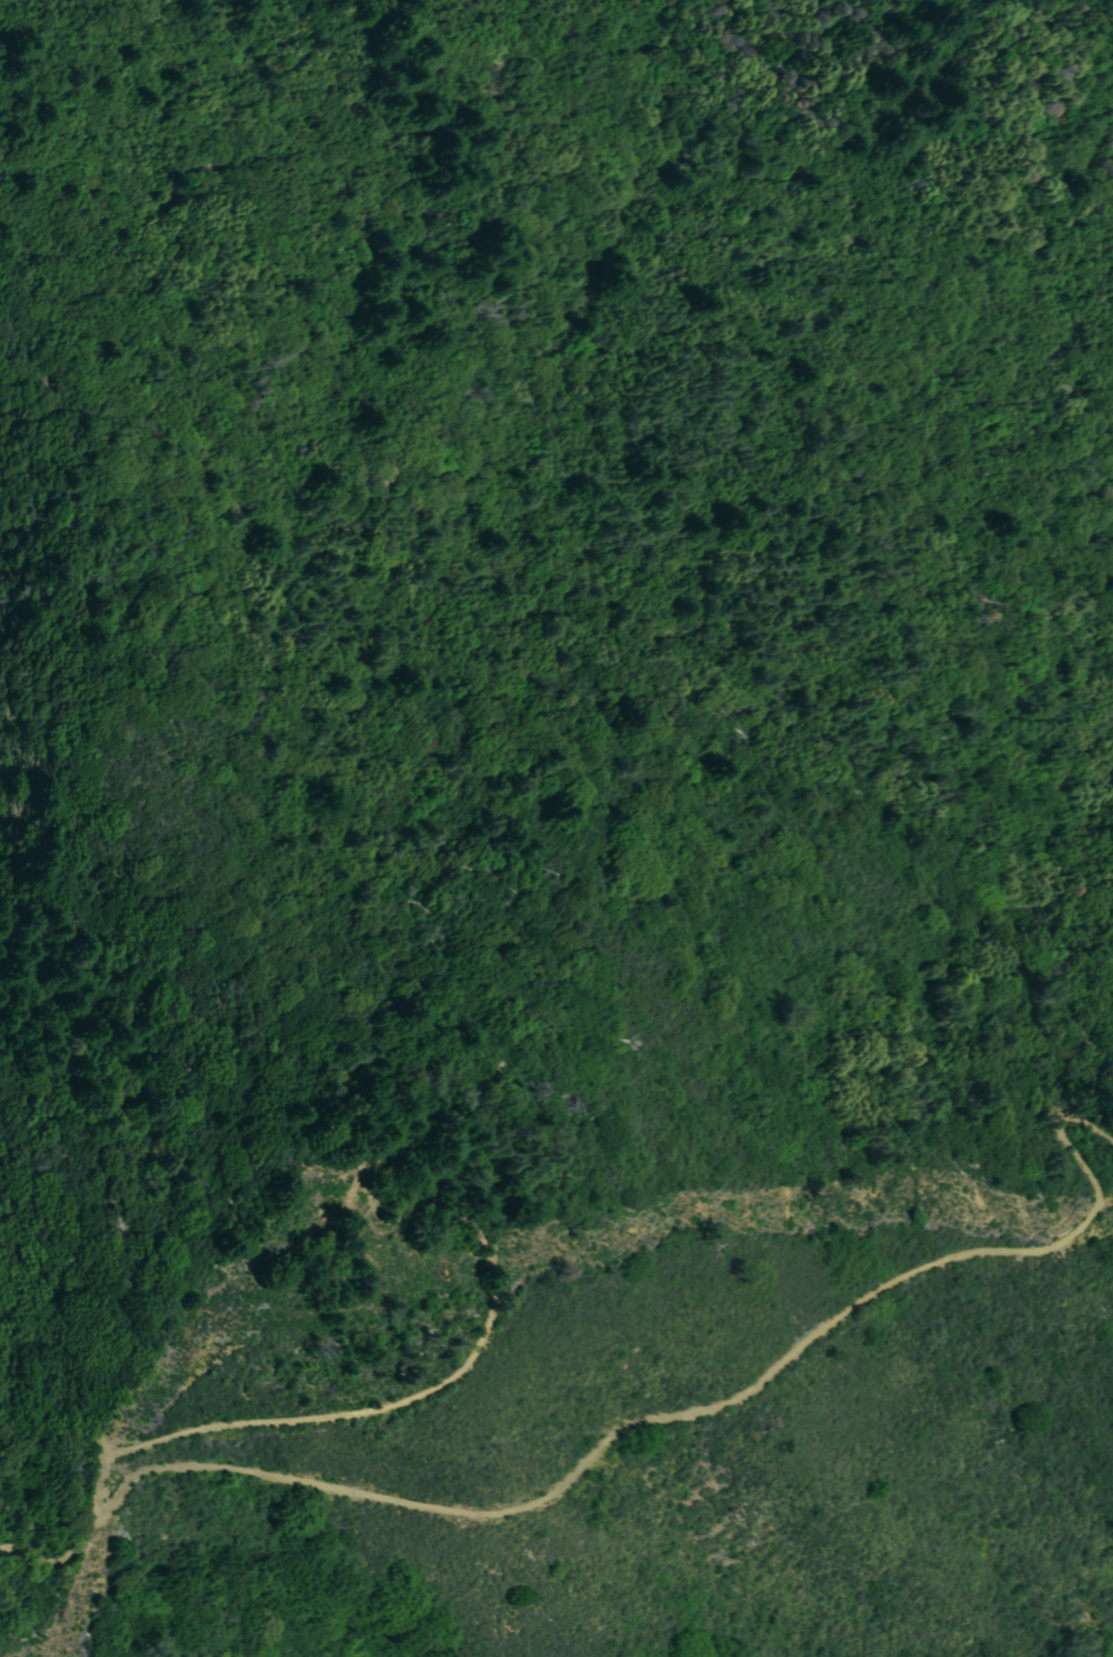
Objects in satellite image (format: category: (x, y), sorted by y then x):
road: (411, 1390)
road: (620, 1430)

